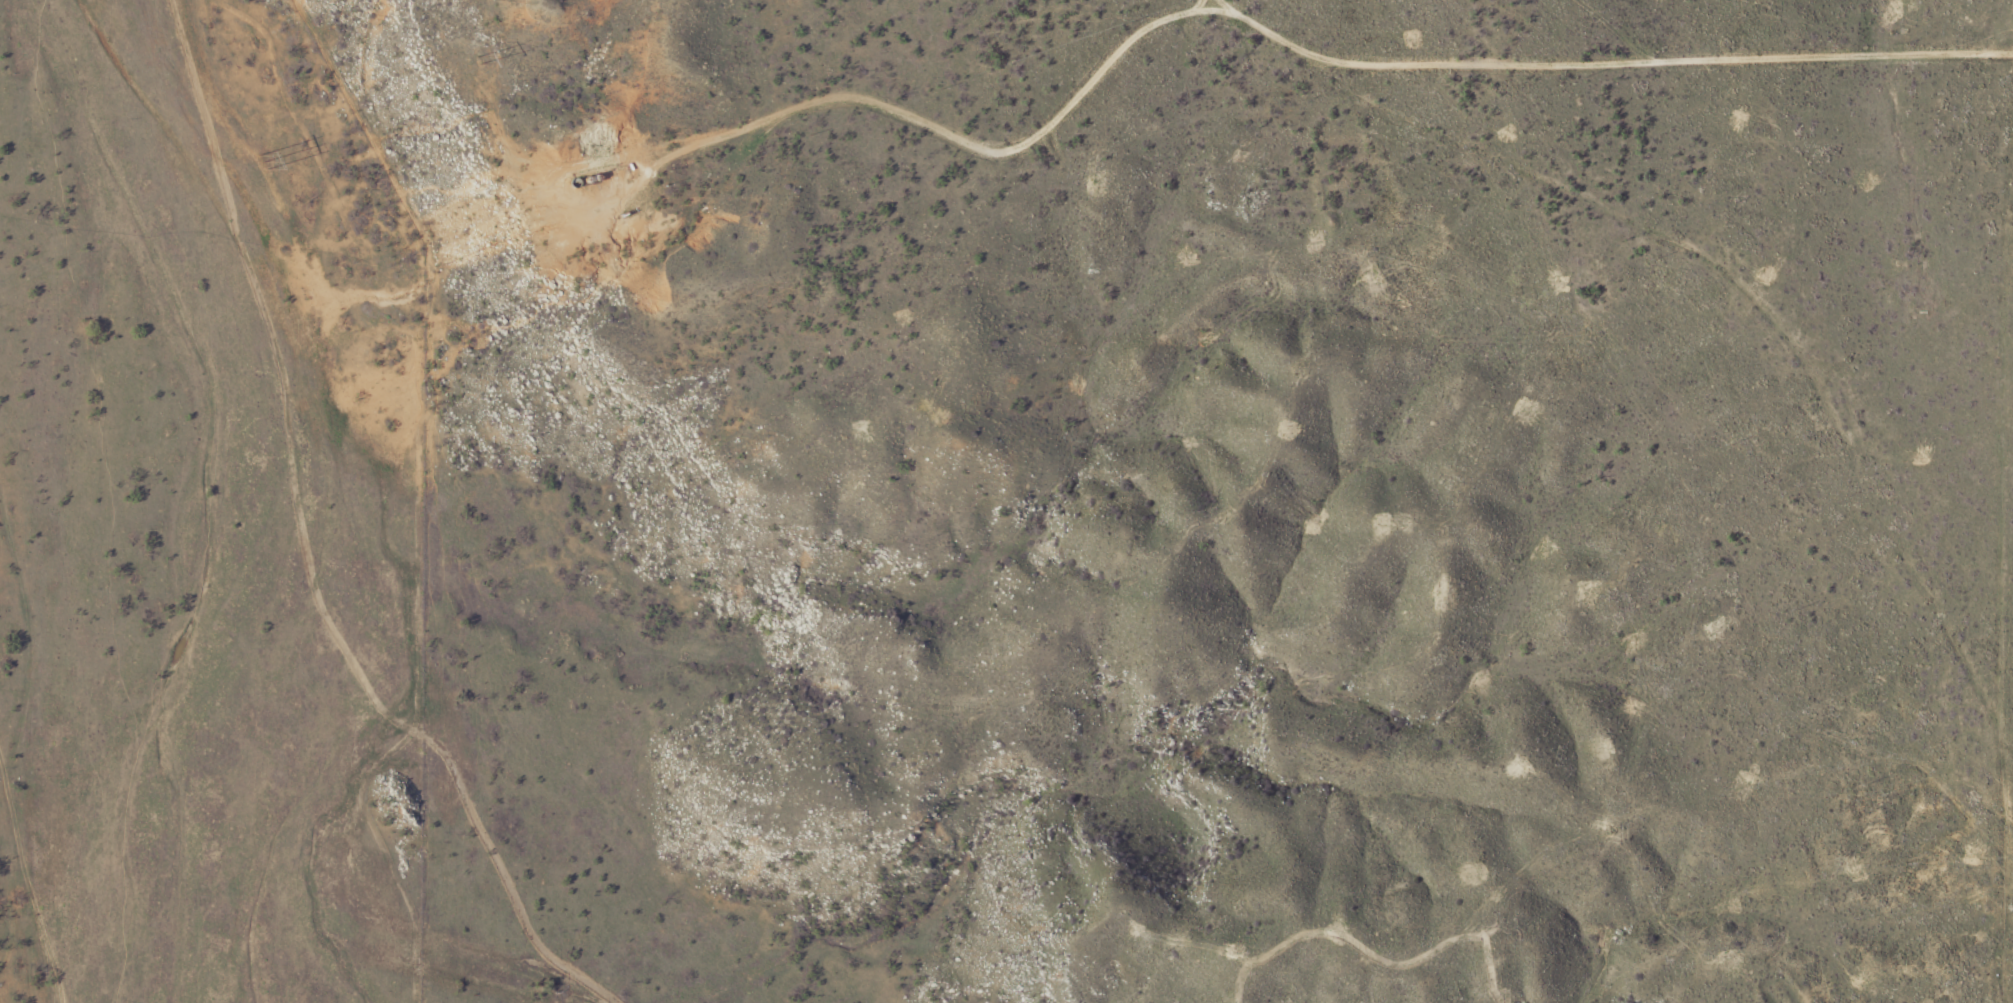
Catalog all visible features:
power tower: (263, 158)

